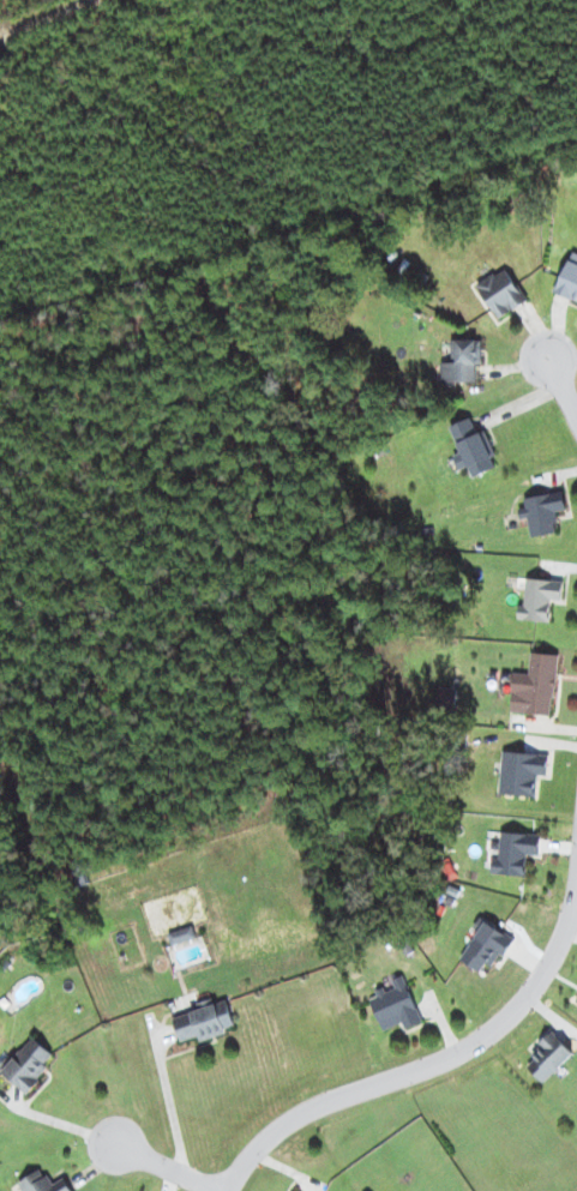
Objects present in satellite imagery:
building: (569, 279)
building: (501, 293)
building: (463, 362)
road: (563, 386)
building: (473, 447)
building: (542, 512)
building: (540, 598)
building: (535, 685)
building: (447, 696)
building: (522, 772)
building: (515, 853)
building: (181, 934)
building: (487, 946)
building: (395, 1005)
building: (204, 1022)
building: (548, 1058)
building: (29, 1064)
road: (432, 1067)
road: (169, 1168)
building: (42, 1183)

